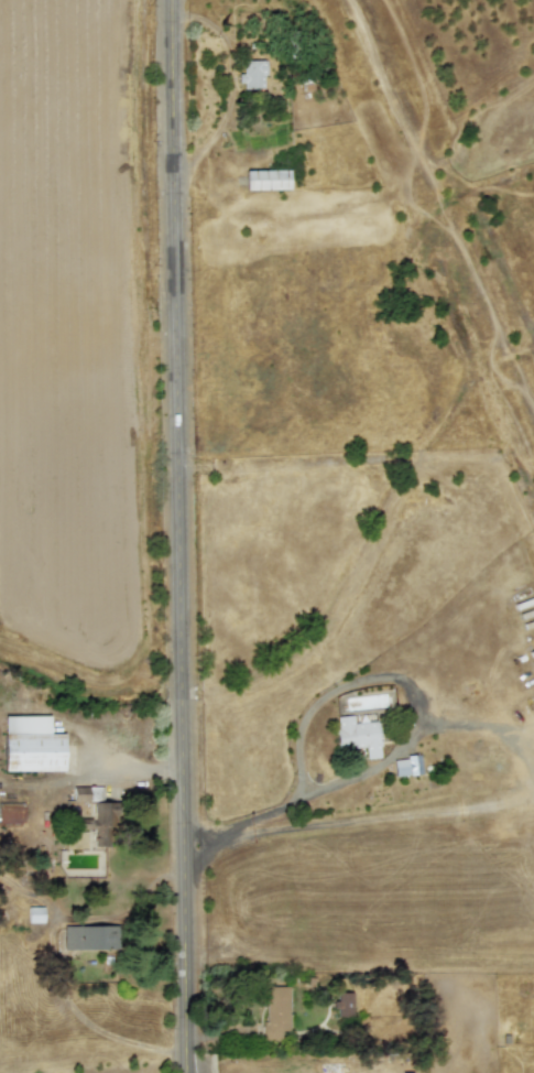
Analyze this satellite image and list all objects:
building: (251, 75)
building: (266, 180)
road: (174, 326)
road: (414, 728)
road: (479, 728)
building: (357, 735)
building: (31, 745)
building: (406, 766)
road: (92, 776)
building: (11, 813)
road: (385, 817)
road: (198, 852)
road: (186, 863)
building: (34, 914)
building: (89, 936)
building: (342, 1005)
building: (275, 1011)

